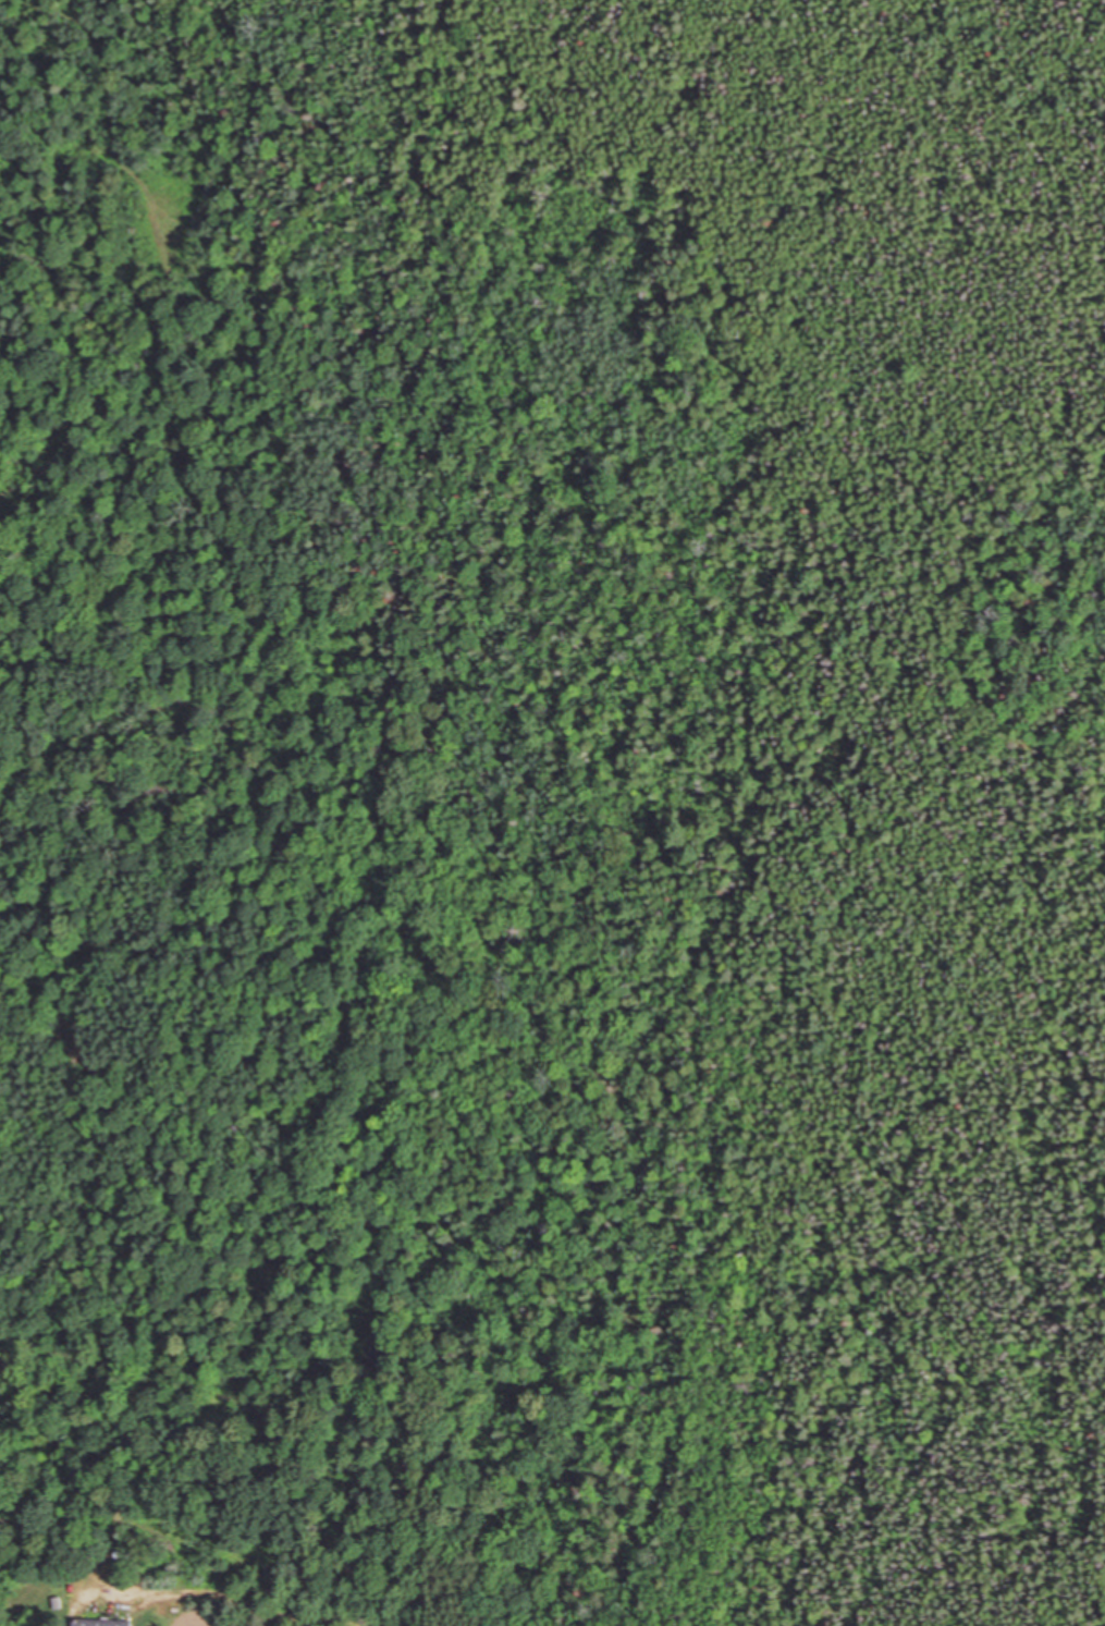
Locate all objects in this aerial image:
building: (109, 1623)

